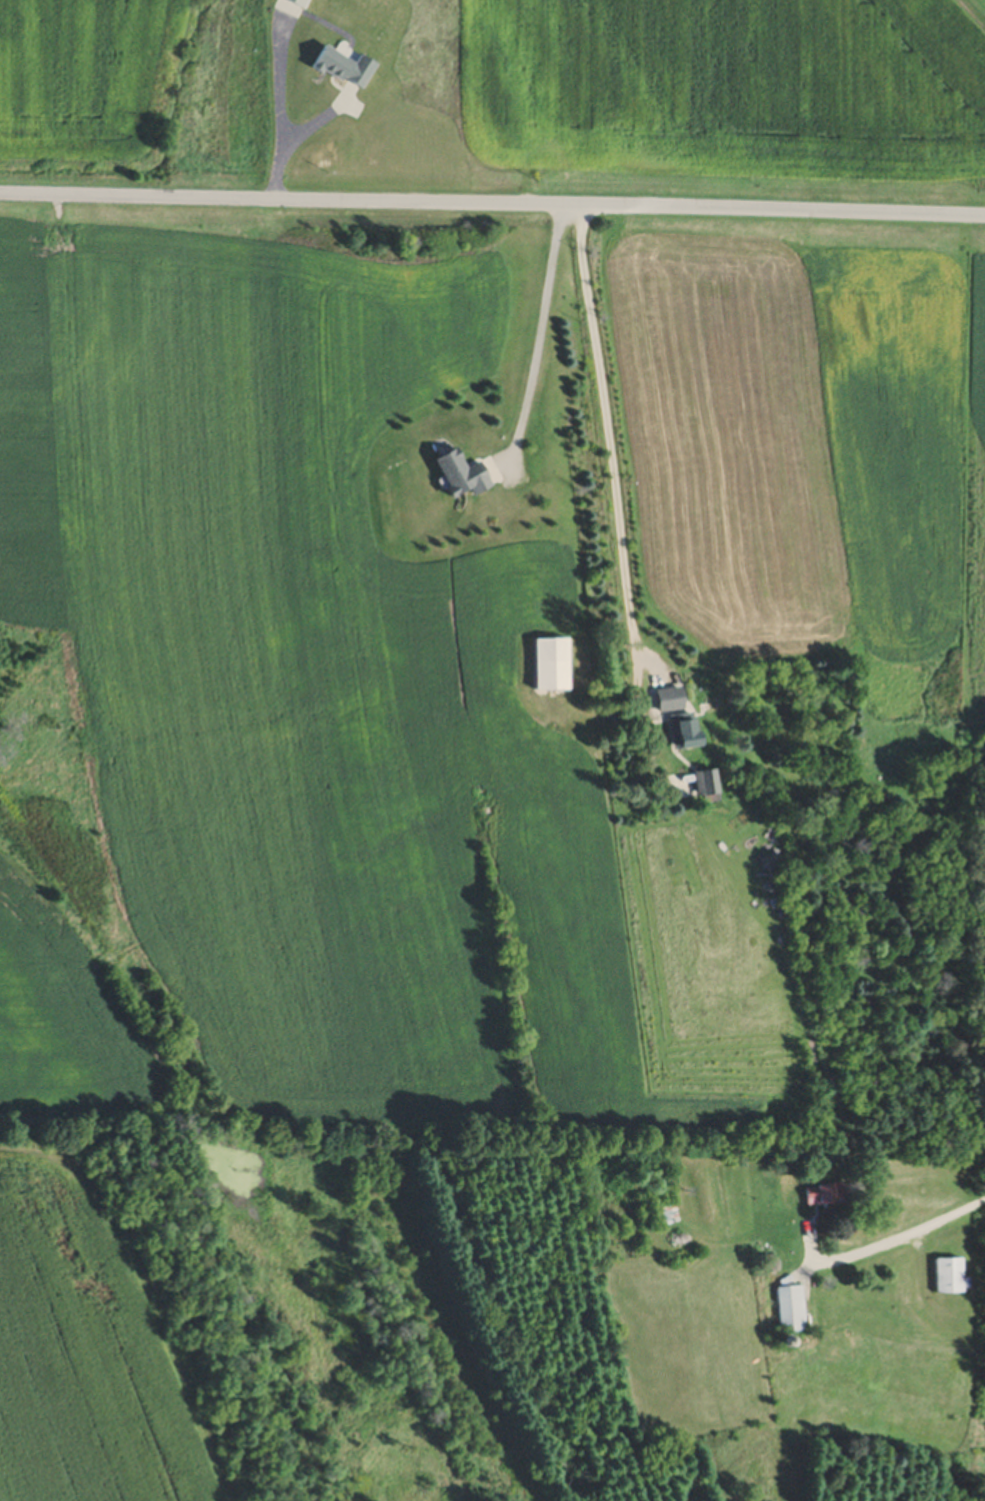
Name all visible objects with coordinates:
building: (291, 3)
building: (338, 69)
road: (492, 208)
road: (538, 346)
road: (608, 437)
building: (453, 476)
building: (541, 665)
building: (660, 700)
building: (494, 727)
building: (677, 732)
building: (690, 787)
building: (810, 1196)
building: (658, 1215)
building: (804, 1231)
road: (898, 1240)
building: (940, 1278)
building: (784, 1312)

